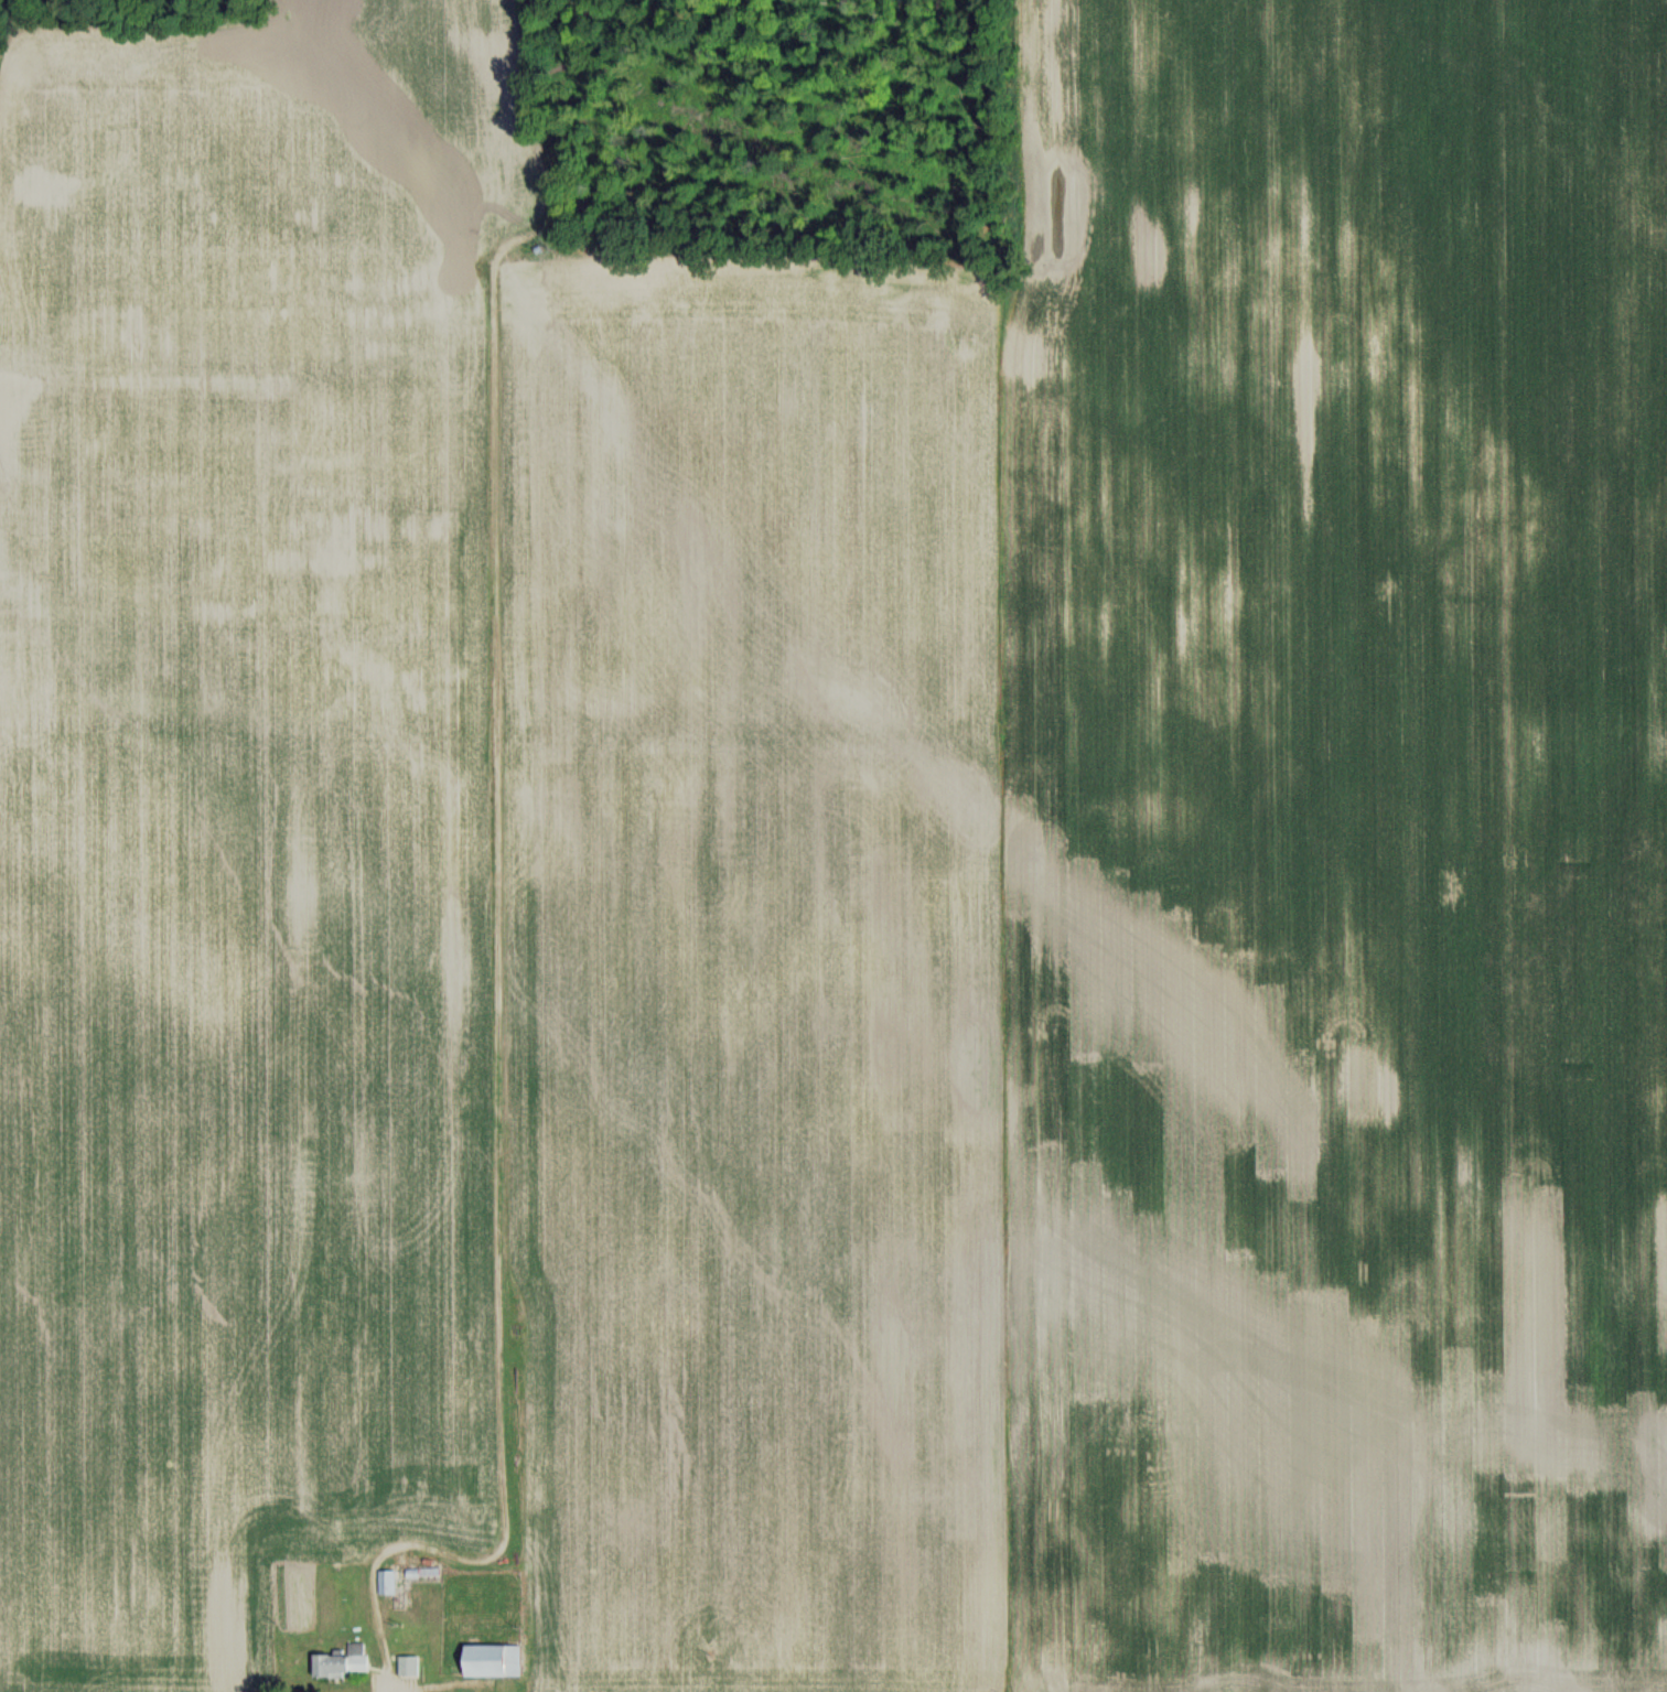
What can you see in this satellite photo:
building: (388, 1582)
building: (494, 1660)
building: (343, 1661)
building: (410, 1666)

